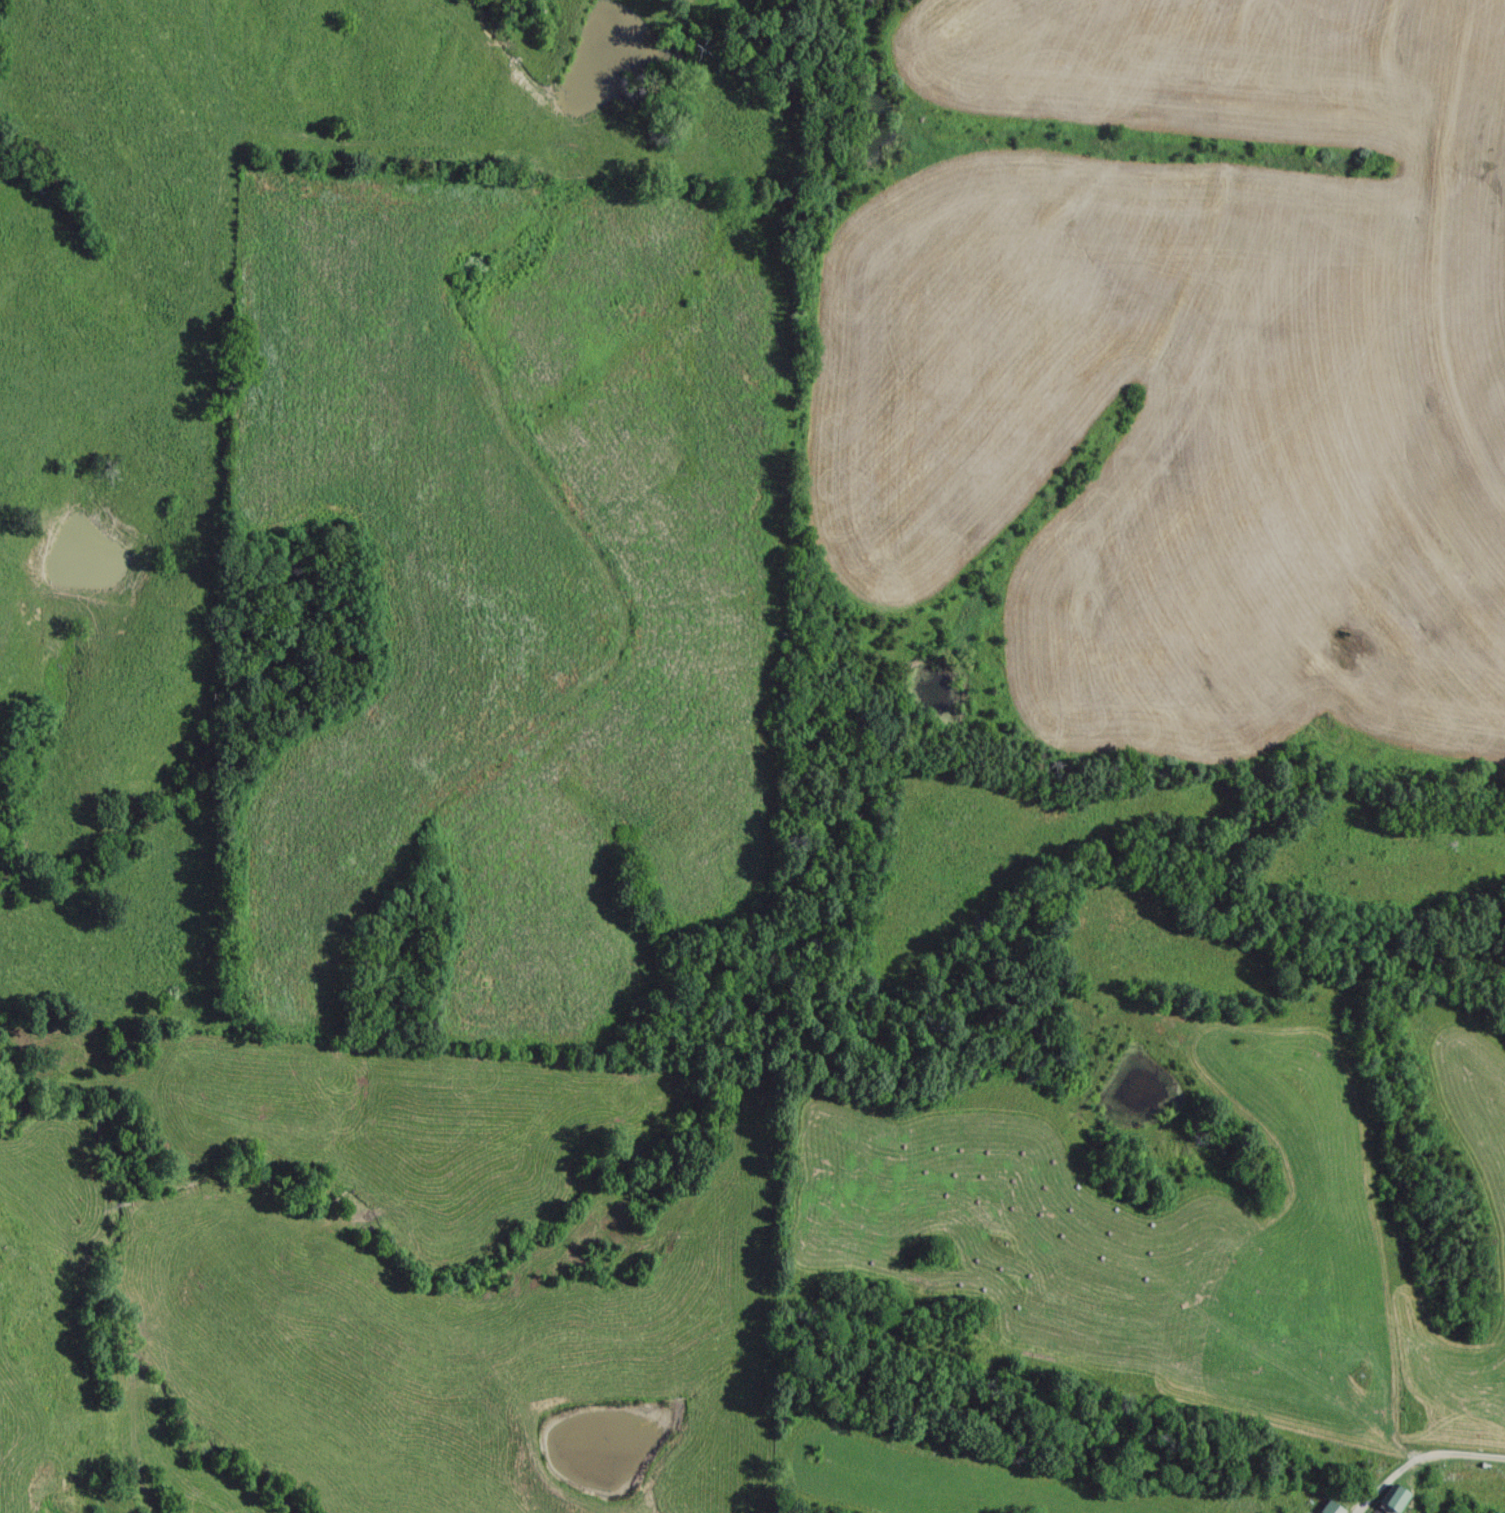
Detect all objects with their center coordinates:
road: (1419, 1457)
building: (1391, 1499)

